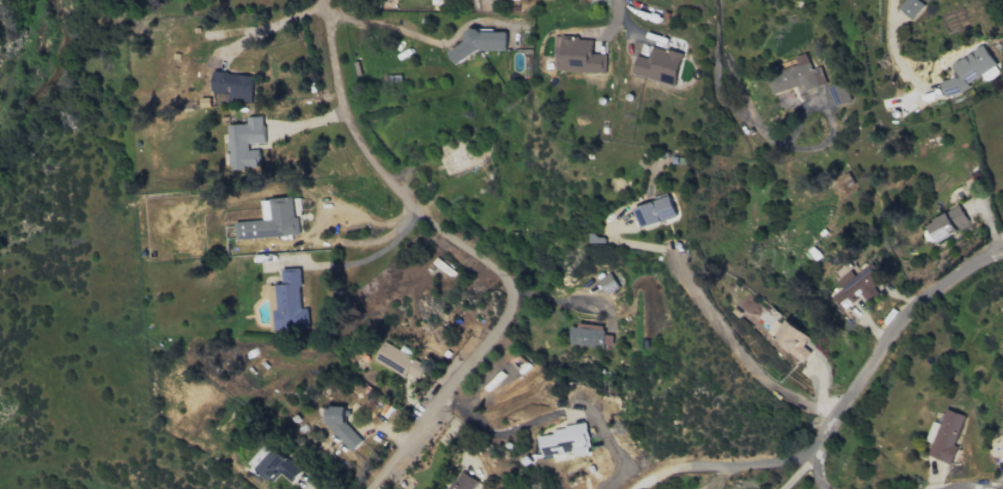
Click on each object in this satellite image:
building: (910, 7)
road: (614, 19)
road: (625, 19)
road: (273, 24)
road: (399, 38)
building: (483, 42)
road: (893, 55)
building: (580, 57)
building: (658, 65)
building: (967, 70)
building: (797, 77)
building: (234, 86)
road: (716, 88)
building: (839, 94)
road: (829, 116)
building: (244, 143)
road: (380, 171)
building: (654, 212)
building: (272, 220)
building: (947, 223)
road: (369, 257)
building: (607, 283)
building: (856, 288)
road: (575, 293)
building: (289, 302)
building: (589, 336)
building: (790, 339)
road: (743, 352)
road: (881, 352)
building: (399, 361)
road: (452, 392)
road: (556, 414)
building: (945, 436)
building: (565, 441)
road: (725, 461)
building: (276, 466)
road: (803, 469)
building: (461, 481)
road: (825, 487)
road: (1002, 488)

